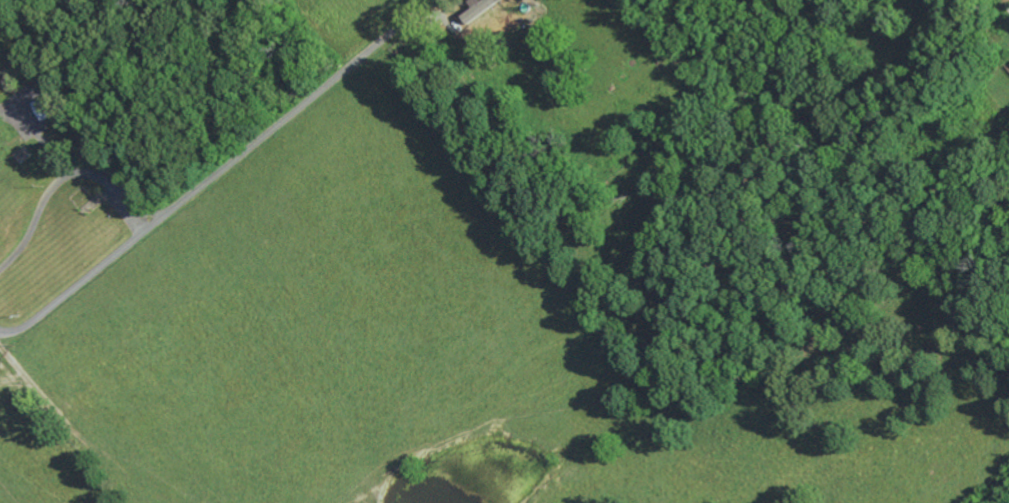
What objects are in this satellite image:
building: (482, 9)
building: (49, 105)
road: (220, 171)

